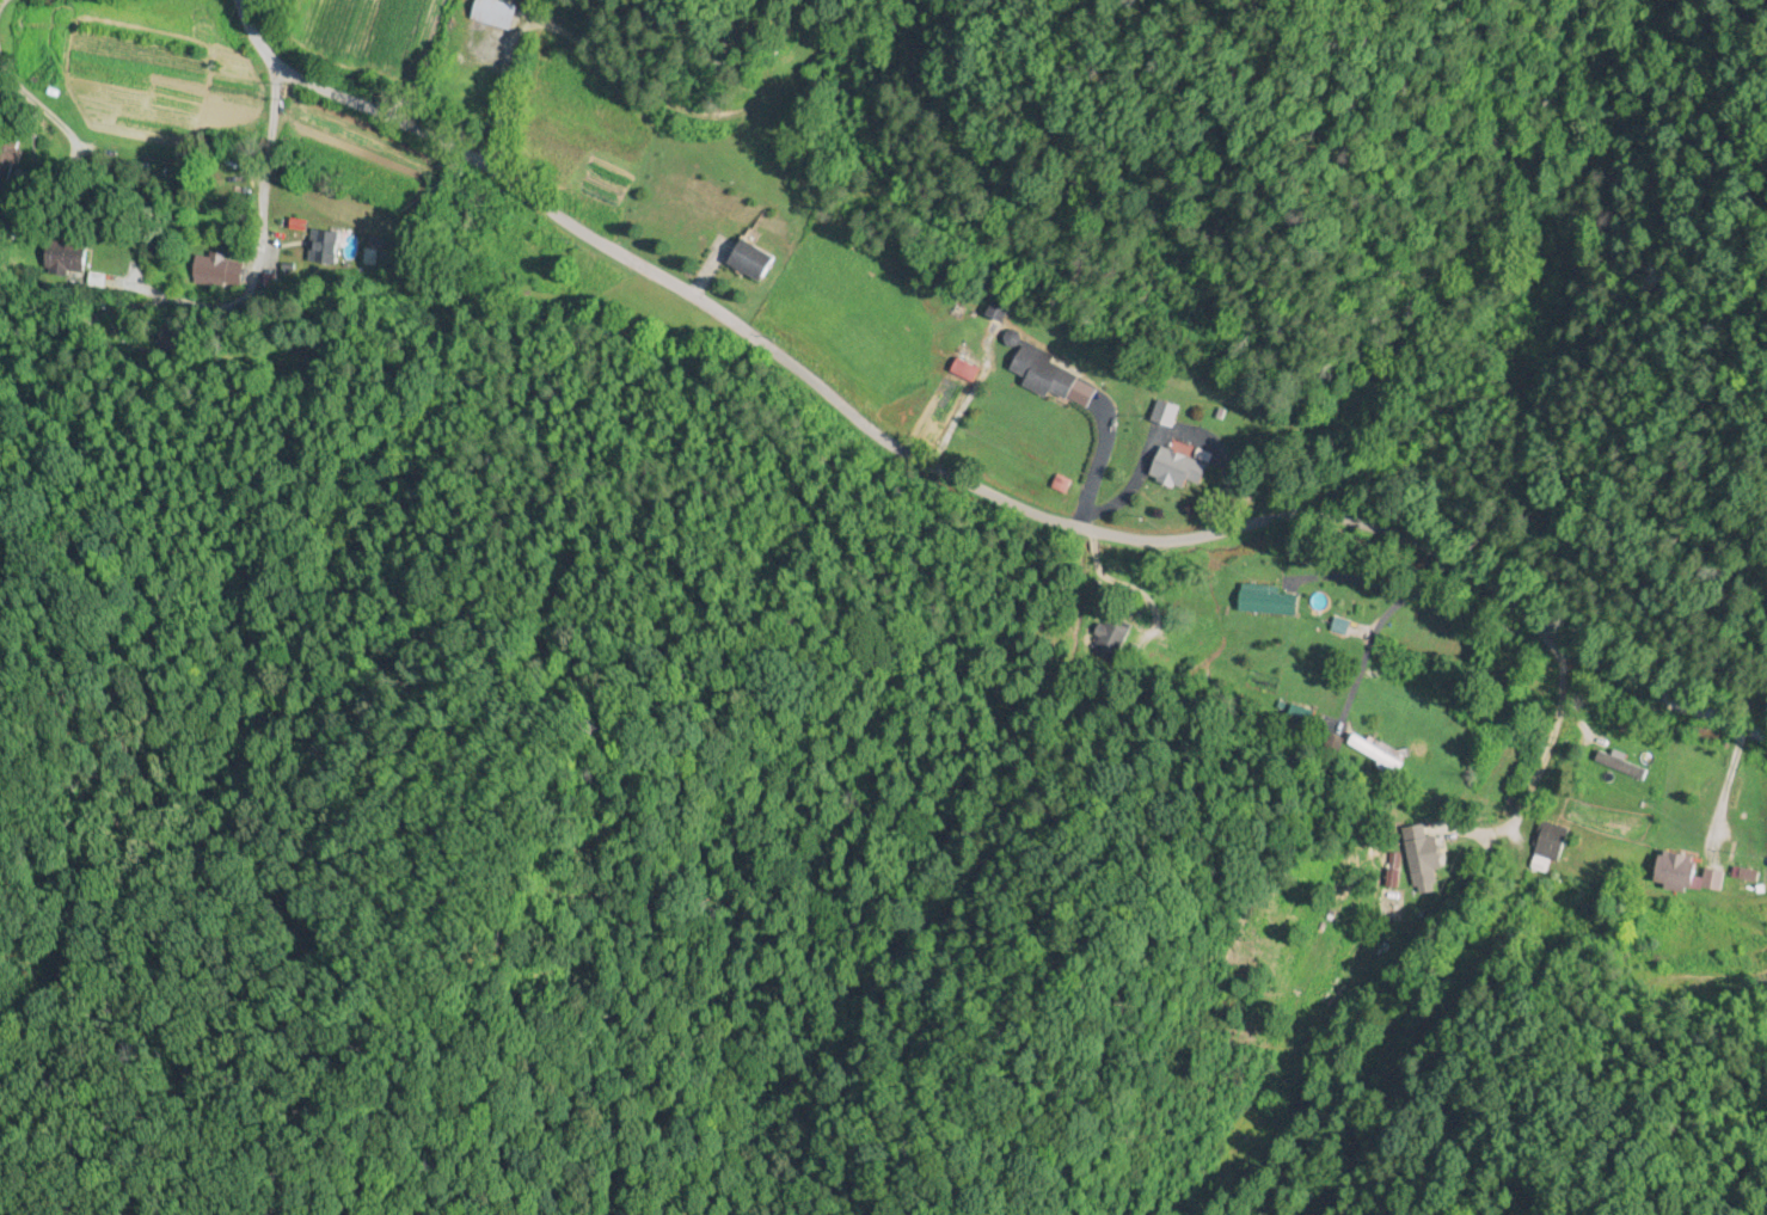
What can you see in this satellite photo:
road: (251, 269)
road: (933, 504)
road: (1534, 762)
road: (1718, 793)

